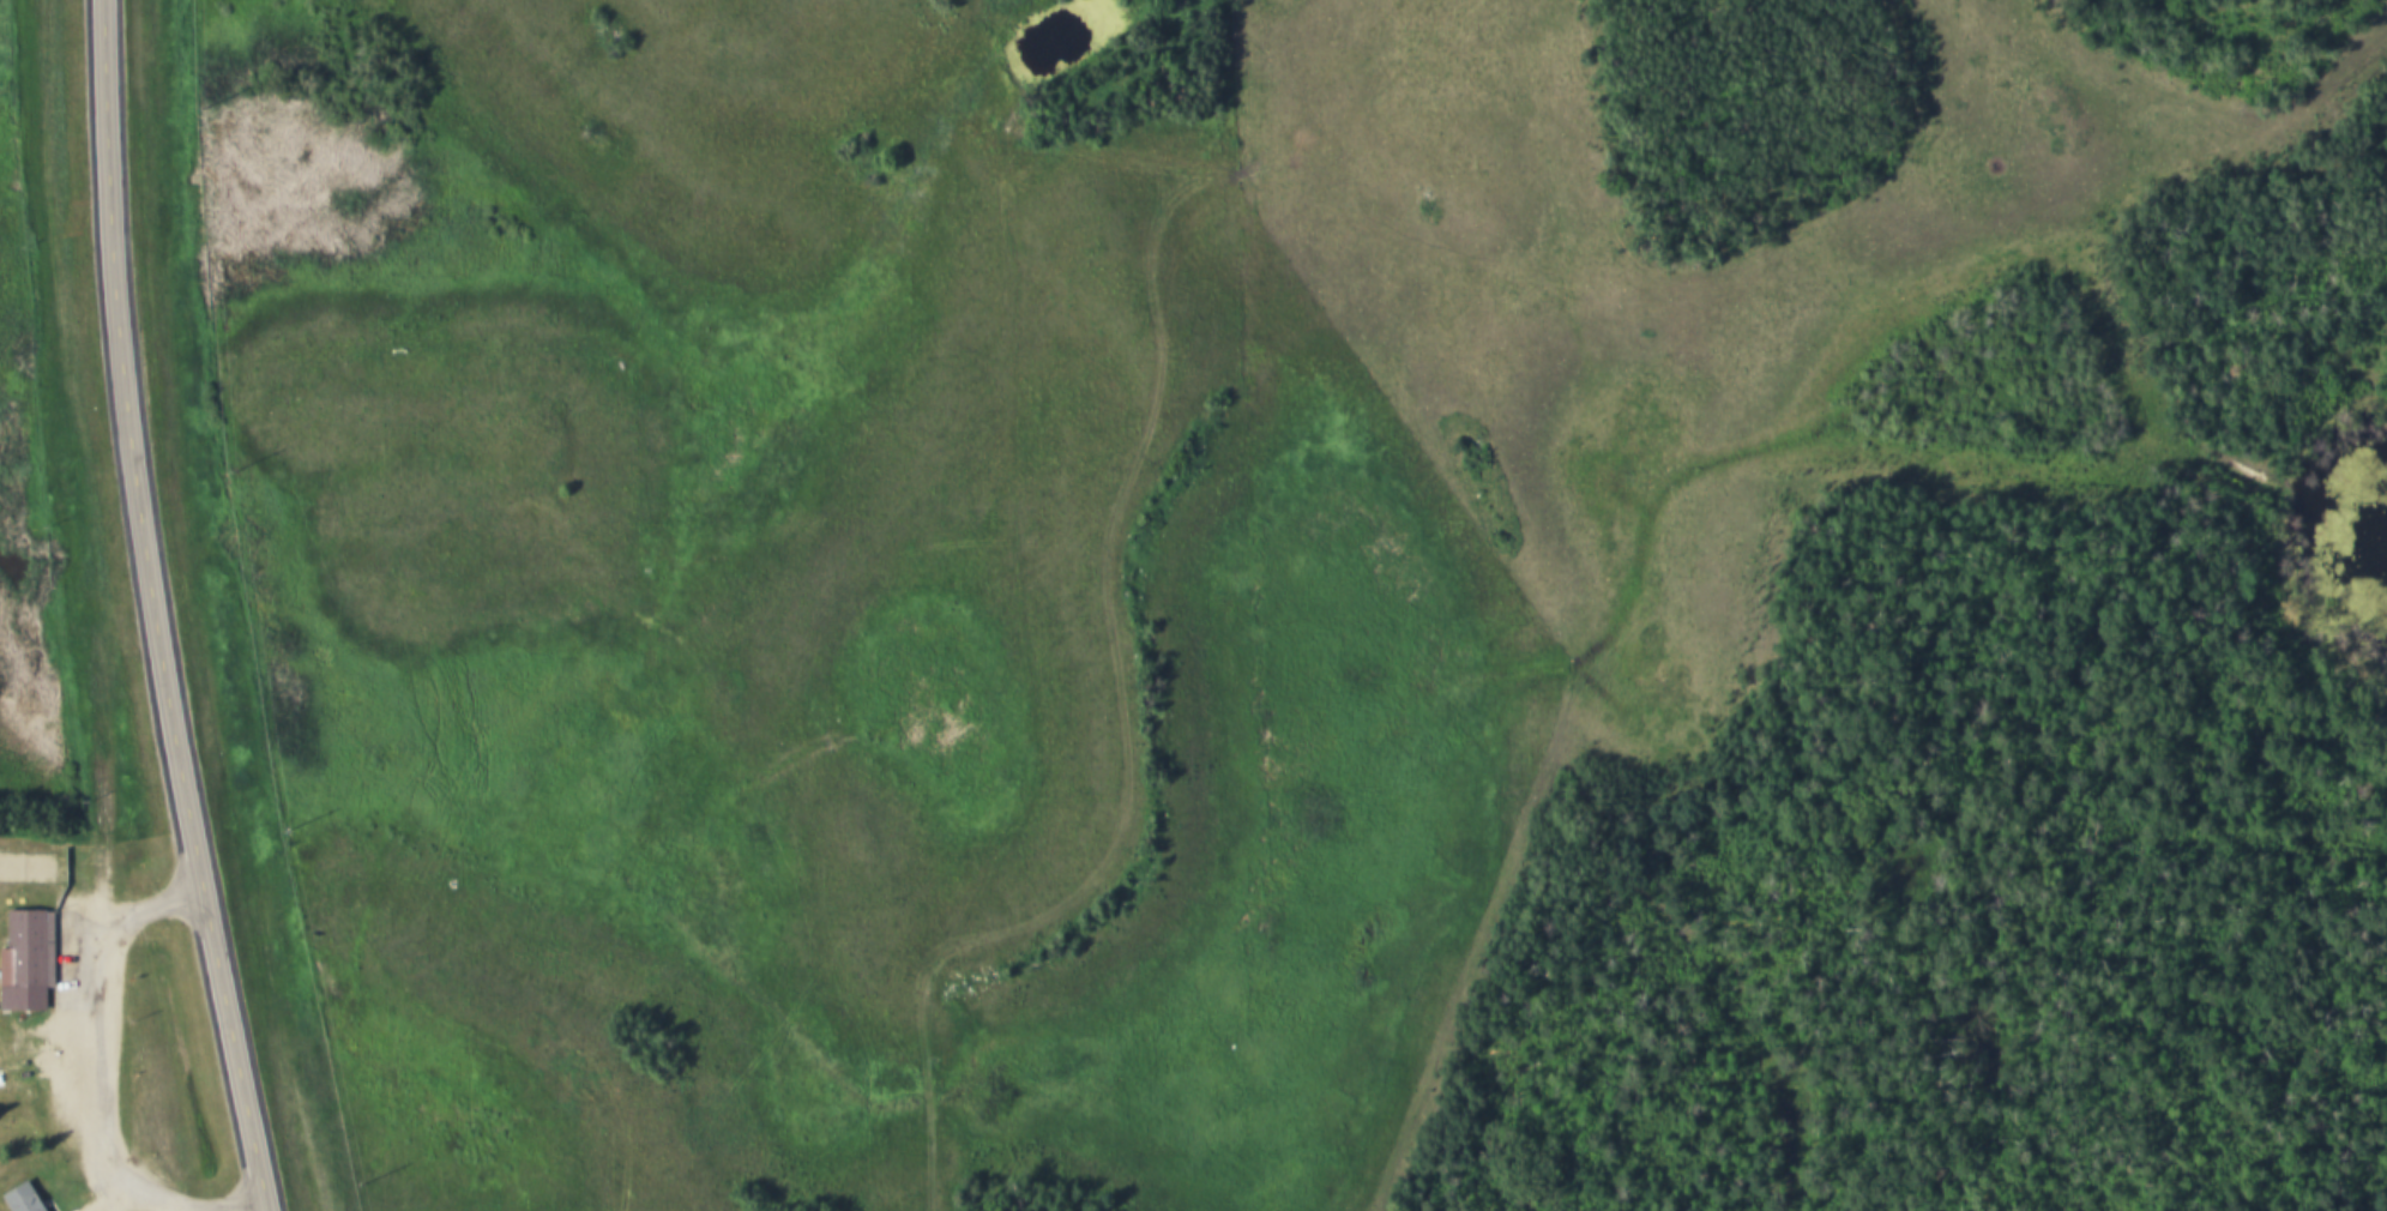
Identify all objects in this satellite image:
road: (151, 609)
road: (1122, 653)
building: (28, 963)
road: (89, 1053)
road: (114, 1198)
building: (28, 1199)

